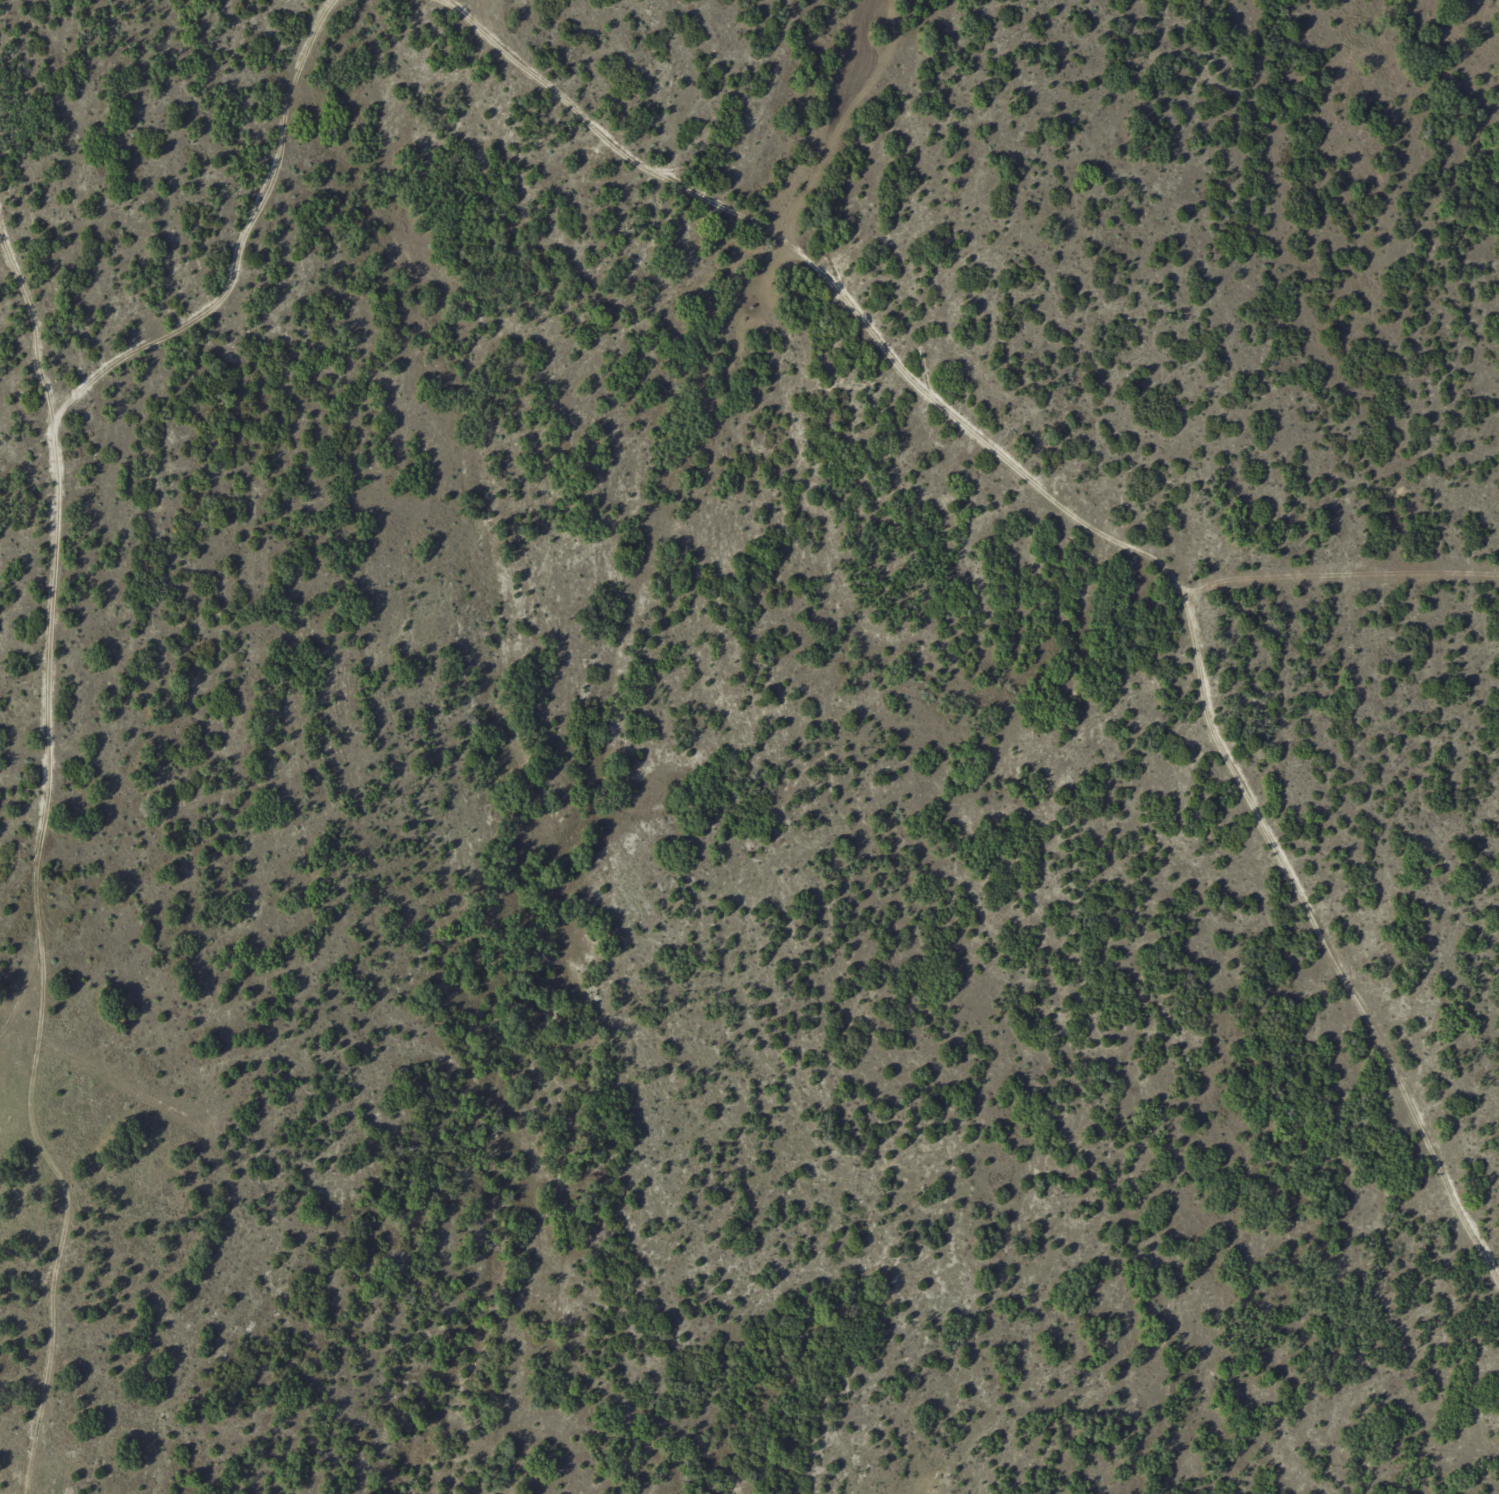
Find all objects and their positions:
road: (383, 1)
road: (905, 347)
road: (38, 630)

